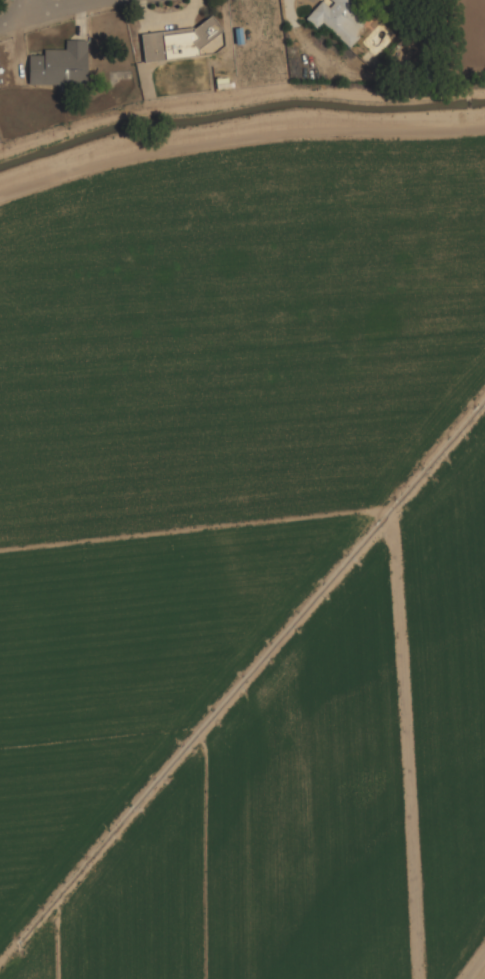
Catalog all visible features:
road: (25, 9)
road: (59, 9)
building: (342, 17)
road: (12, 21)
building: (177, 40)
building: (61, 64)
road: (240, 132)
crop: (204, 450)
crop: (325, 792)

